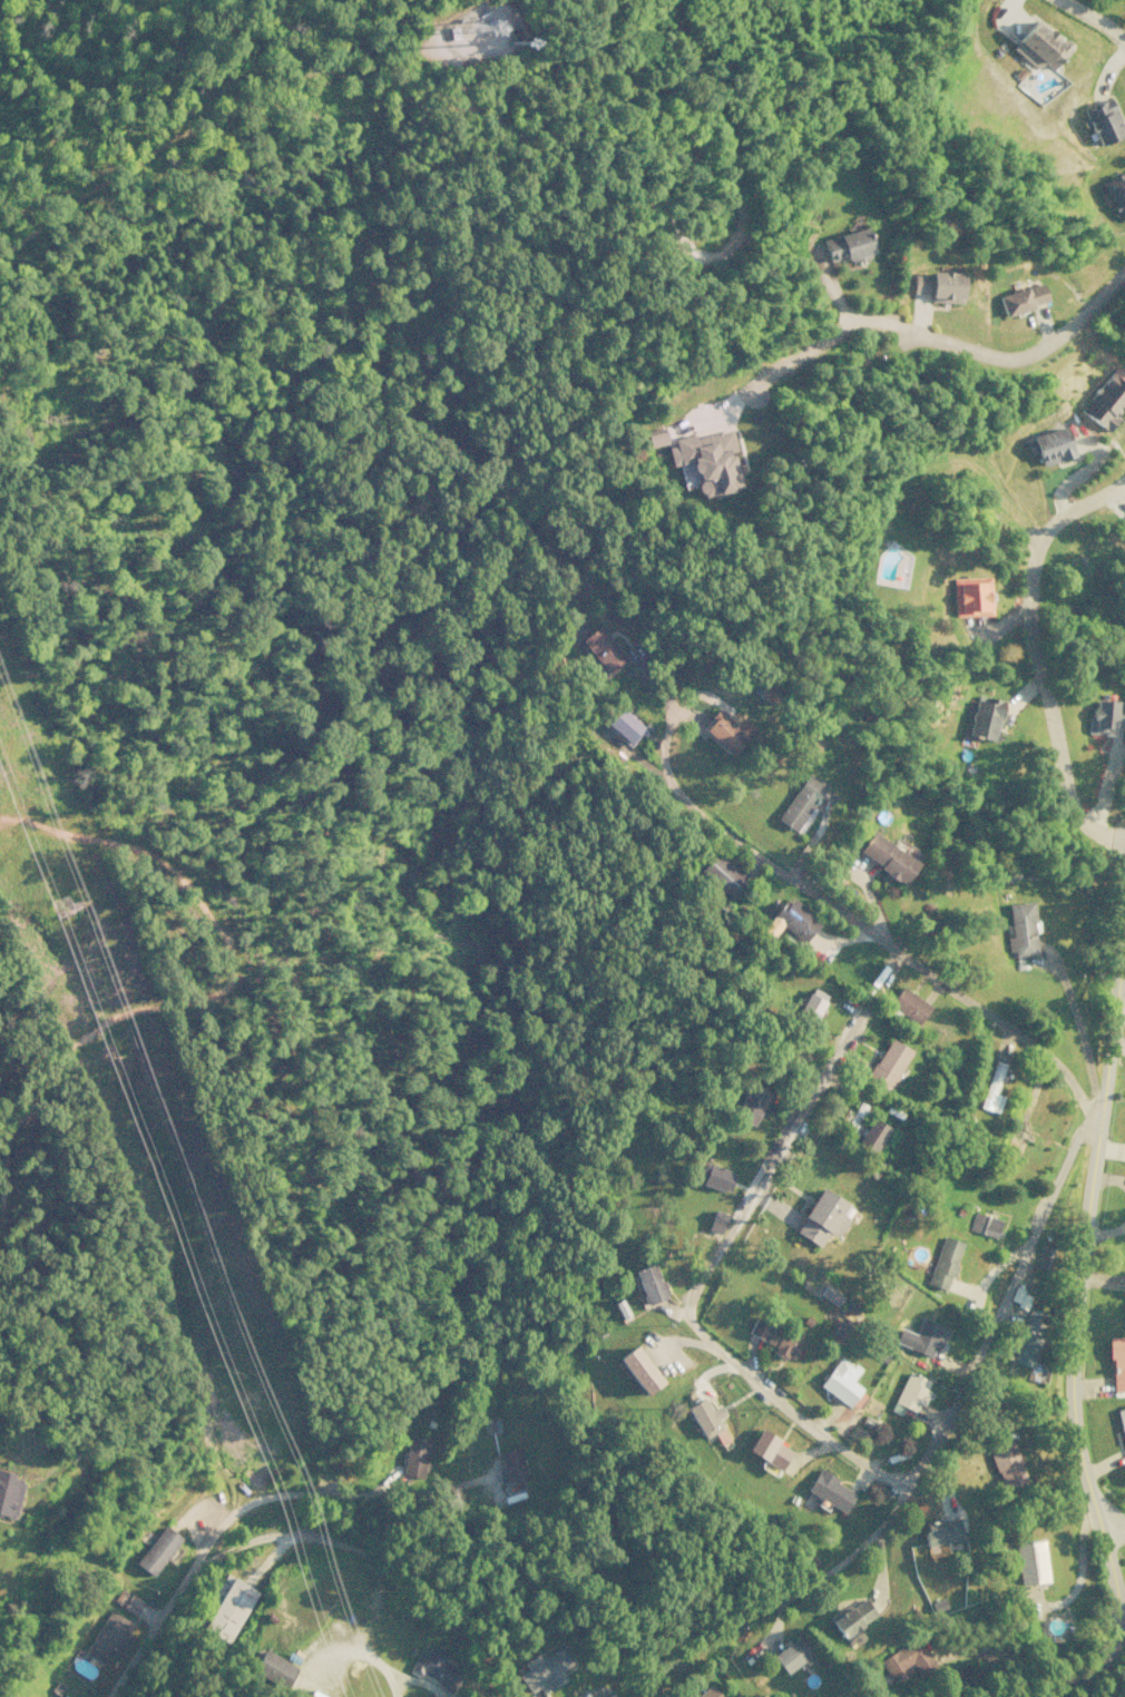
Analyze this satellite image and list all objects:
road: (1094, 19)
building: (1039, 46)
building: (1103, 121)
building: (1116, 194)
building: (847, 245)
building: (938, 285)
building: (1021, 298)
road: (943, 342)
building: (1106, 399)
building: (654, 436)
building: (1049, 445)
building: (705, 461)
building: (970, 597)
building: (601, 648)
road: (1034, 655)
building: (767, 691)
building: (1106, 716)
building: (984, 717)
building: (623, 725)
building: (727, 732)
building: (800, 801)
road: (772, 842)
building: (886, 857)
road: (1124, 861)
building: (722, 875)
building: (791, 920)
building: (1021, 929)
road: (921, 968)
building: (812, 1002)
building: (908, 1004)
building: (888, 1063)
building: (750, 1103)
building: (870, 1135)
building: (715, 1177)
building: (821, 1217)
building: (716, 1220)
building: (1044, 1257)
building: (942, 1262)
road: (698, 1281)
building: (649, 1283)
building: (830, 1295)
road: (1002, 1299)
building: (840, 1331)
road: (1075, 1334)
building: (773, 1337)
building: (926, 1337)
building: (1027, 1338)
building: (1117, 1363)
building: (638, 1370)
building: (840, 1381)
building: (908, 1392)
building: (705, 1419)
building: (1122, 1421)
building: (769, 1450)
building: (414, 1456)
building: (510, 1464)
building: (1006, 1465)
building: (830, 1490)
building: (9, 1493)
road: (1108, 1517)
road: (222, 1522)
building: (938, 1531)
building: (156, 1550)
road: (852, 1551)
building: (1029, 1561)
building: (131, 1603)
building: (226, 1607)
building: (852, 1617)
building: (107, 1637)
building: (792, 1655)
road: (356, 1657)
building: (904, 1660)
building: (434, 1667)
building: (273, 1668)
building: (544, 1669)
building: (707, 1693)

